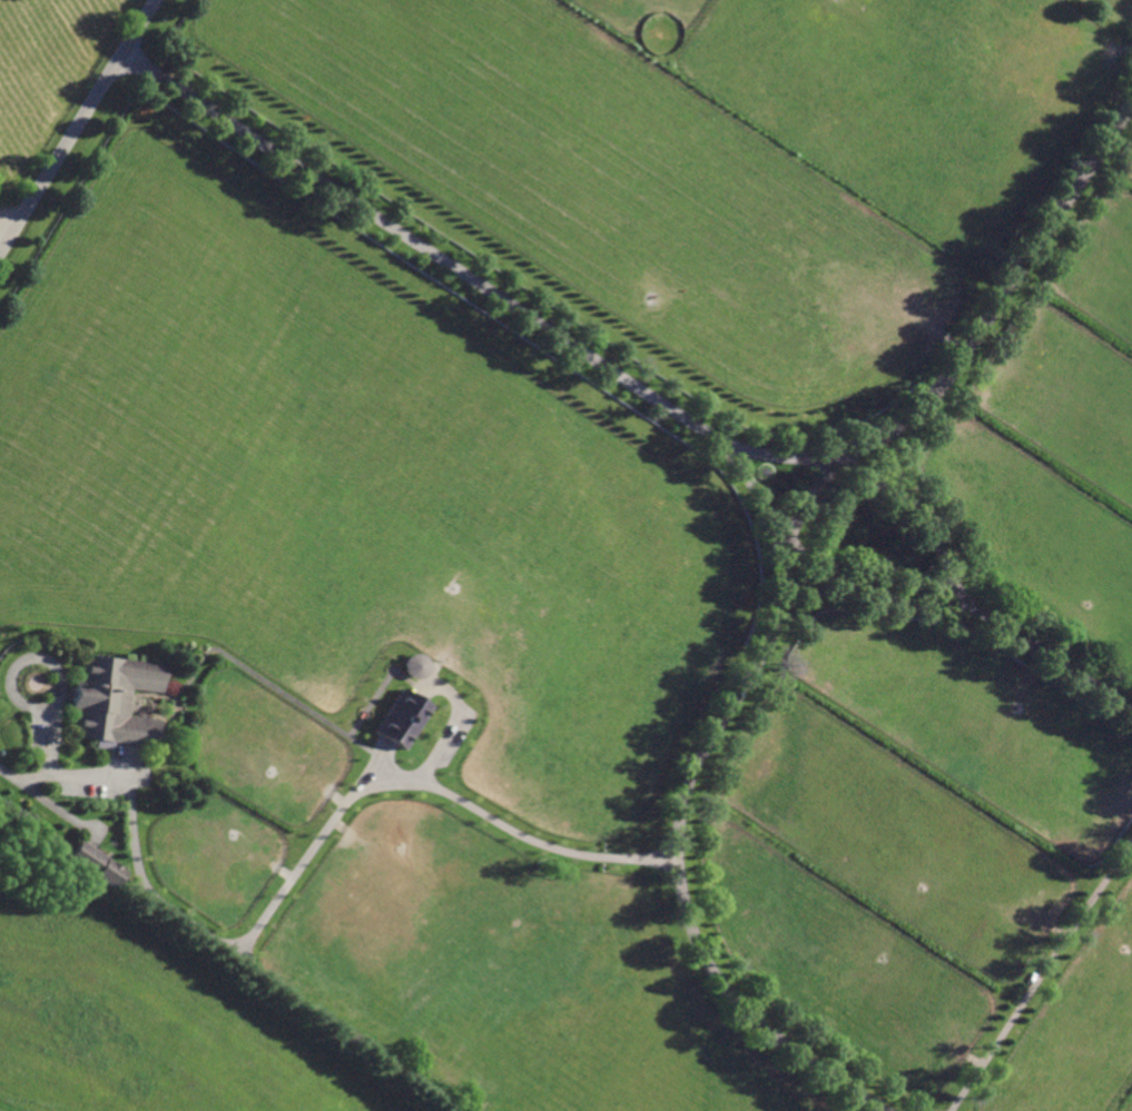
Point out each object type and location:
road: (77, 120)
road: (1, 239)
road: (1, 245)
road: (467, 278)
road: (781, 455)
road: (862, 587)
road: (959, 601)
building: (412, 666)
building: (112, 701)
building: (398, 718)
road: (673, 849)
building: (95, 861)
building: (496, 905)
road: (1041, 974)
road: (739, 1012)

